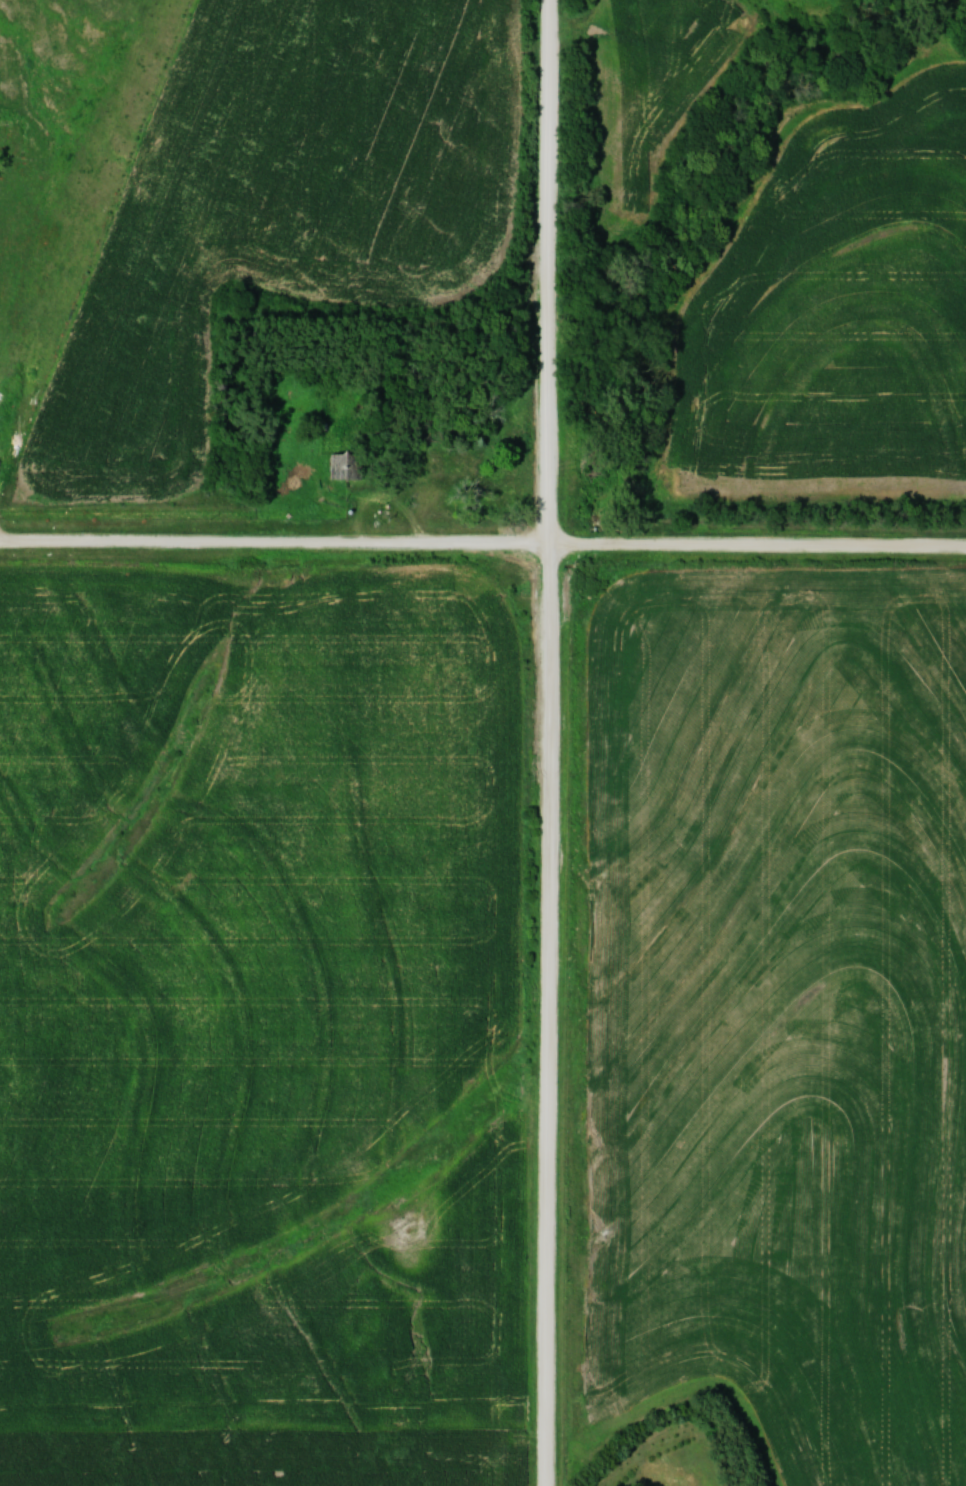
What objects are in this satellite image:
building: (344, 467)
road: (421, 479)
road: (483, 545)
road: (553, 742)

